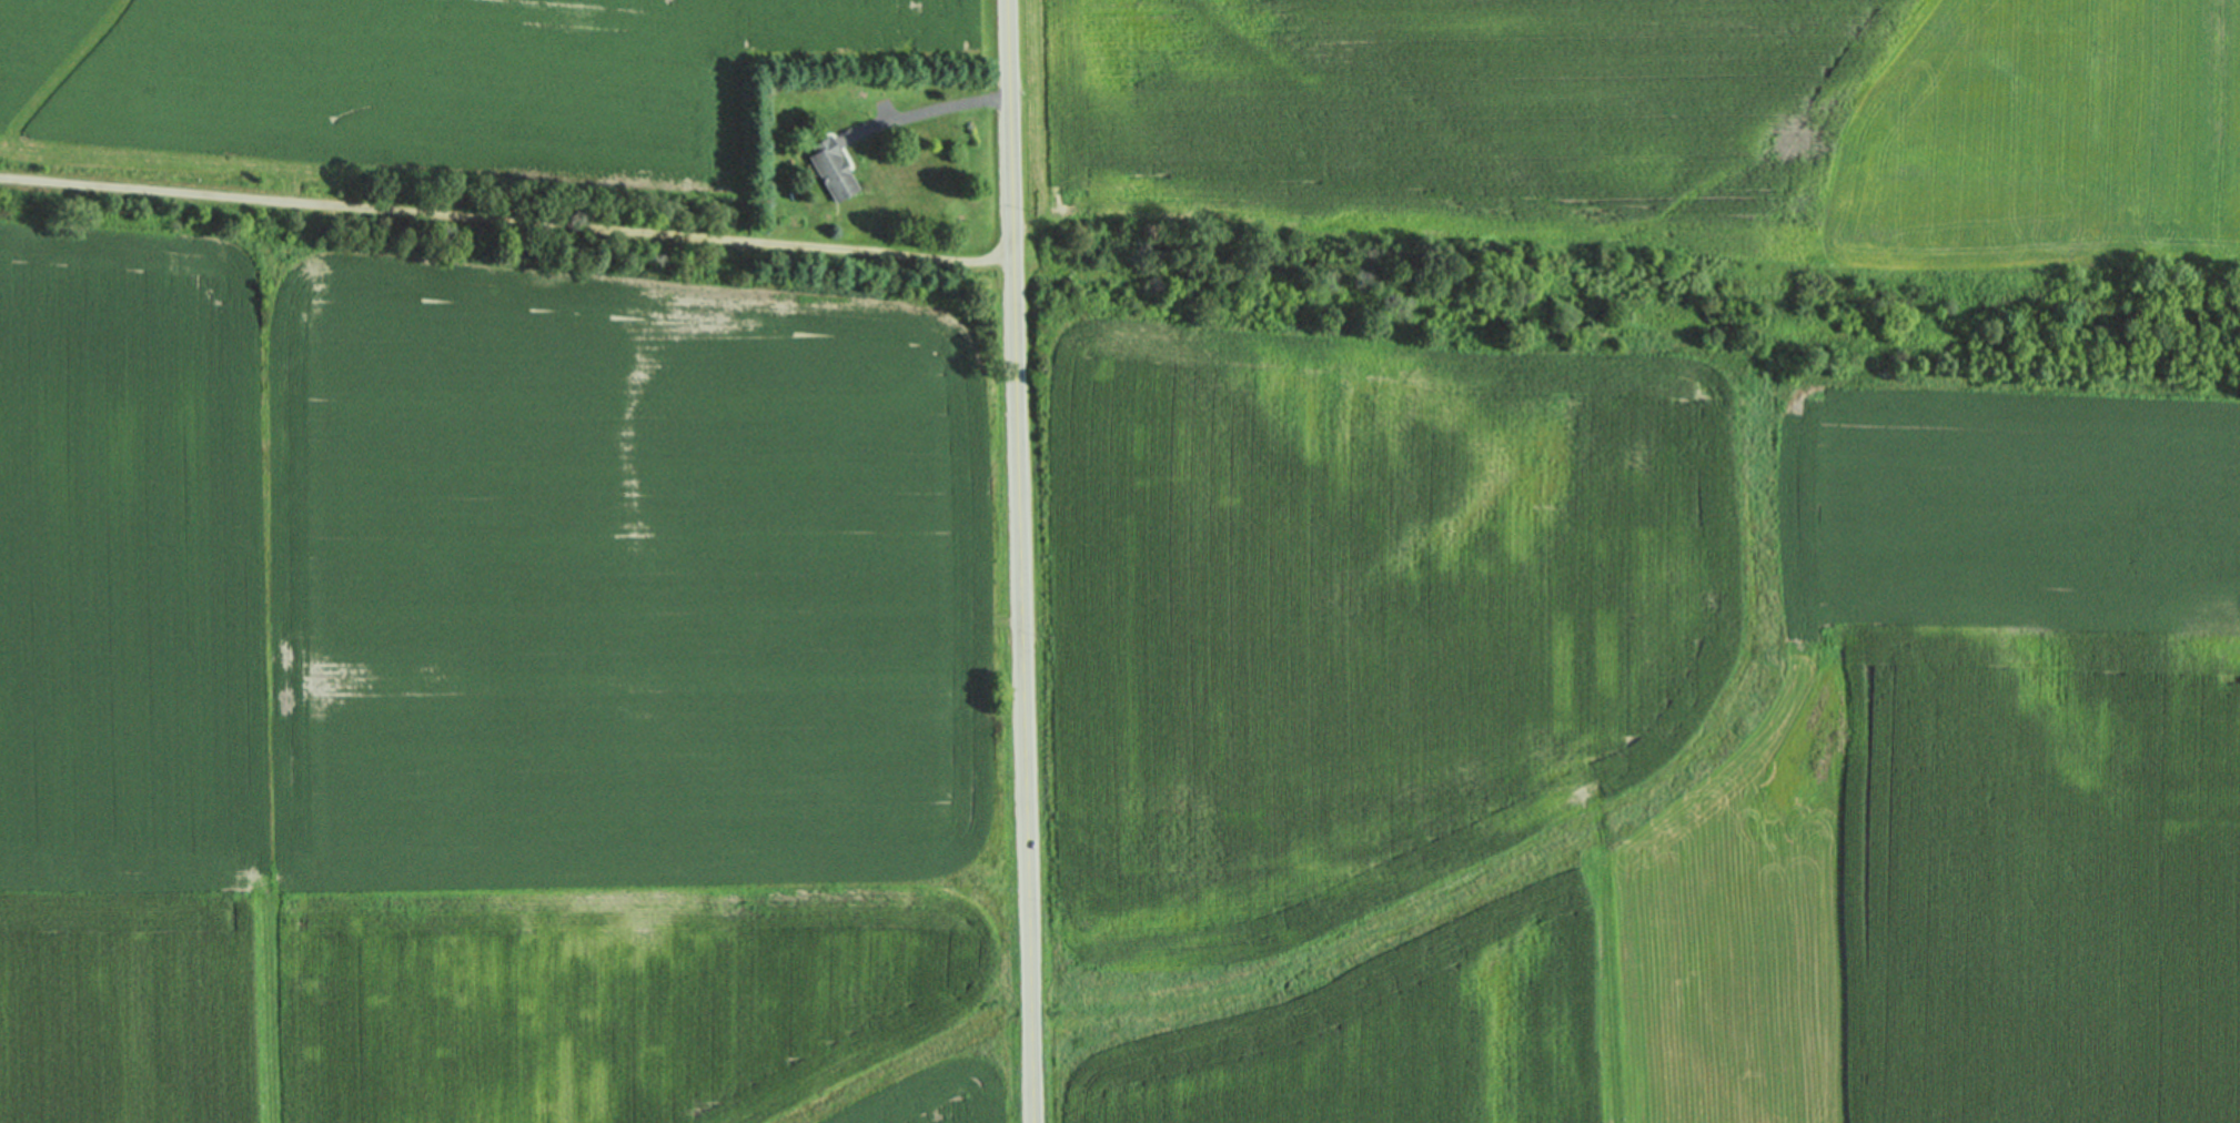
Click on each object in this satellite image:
road: (920, 114)
building: (833, 168)
road: (1017, 561)

